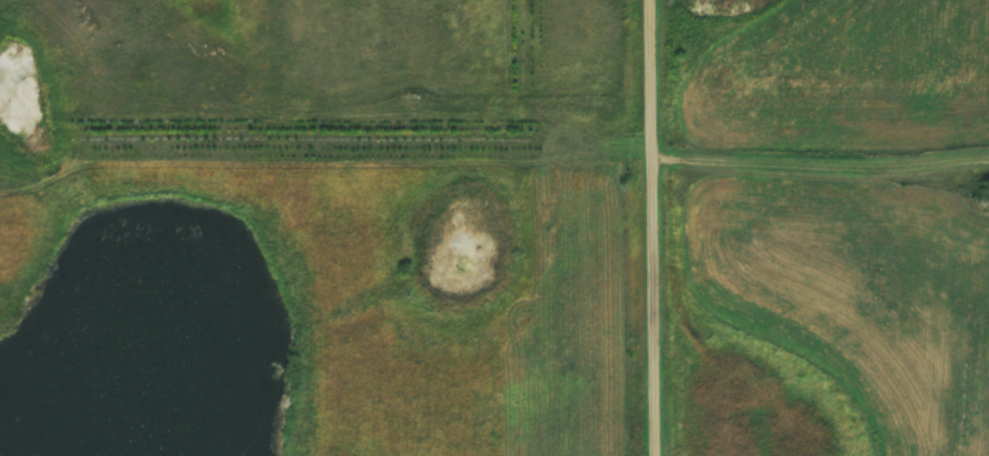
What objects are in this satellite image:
road: (655, 227)

